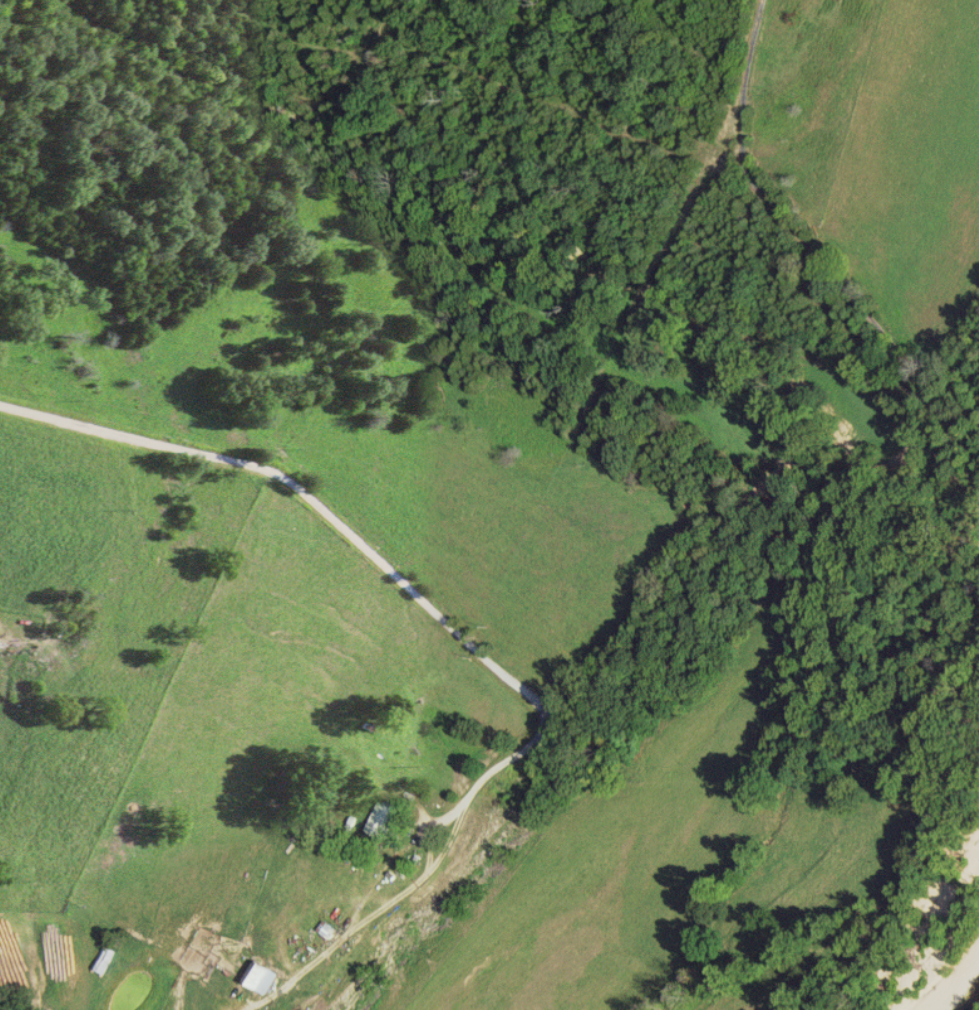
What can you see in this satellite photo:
road: (932, 434)
road: (467, 640)
building: (382, 819)

